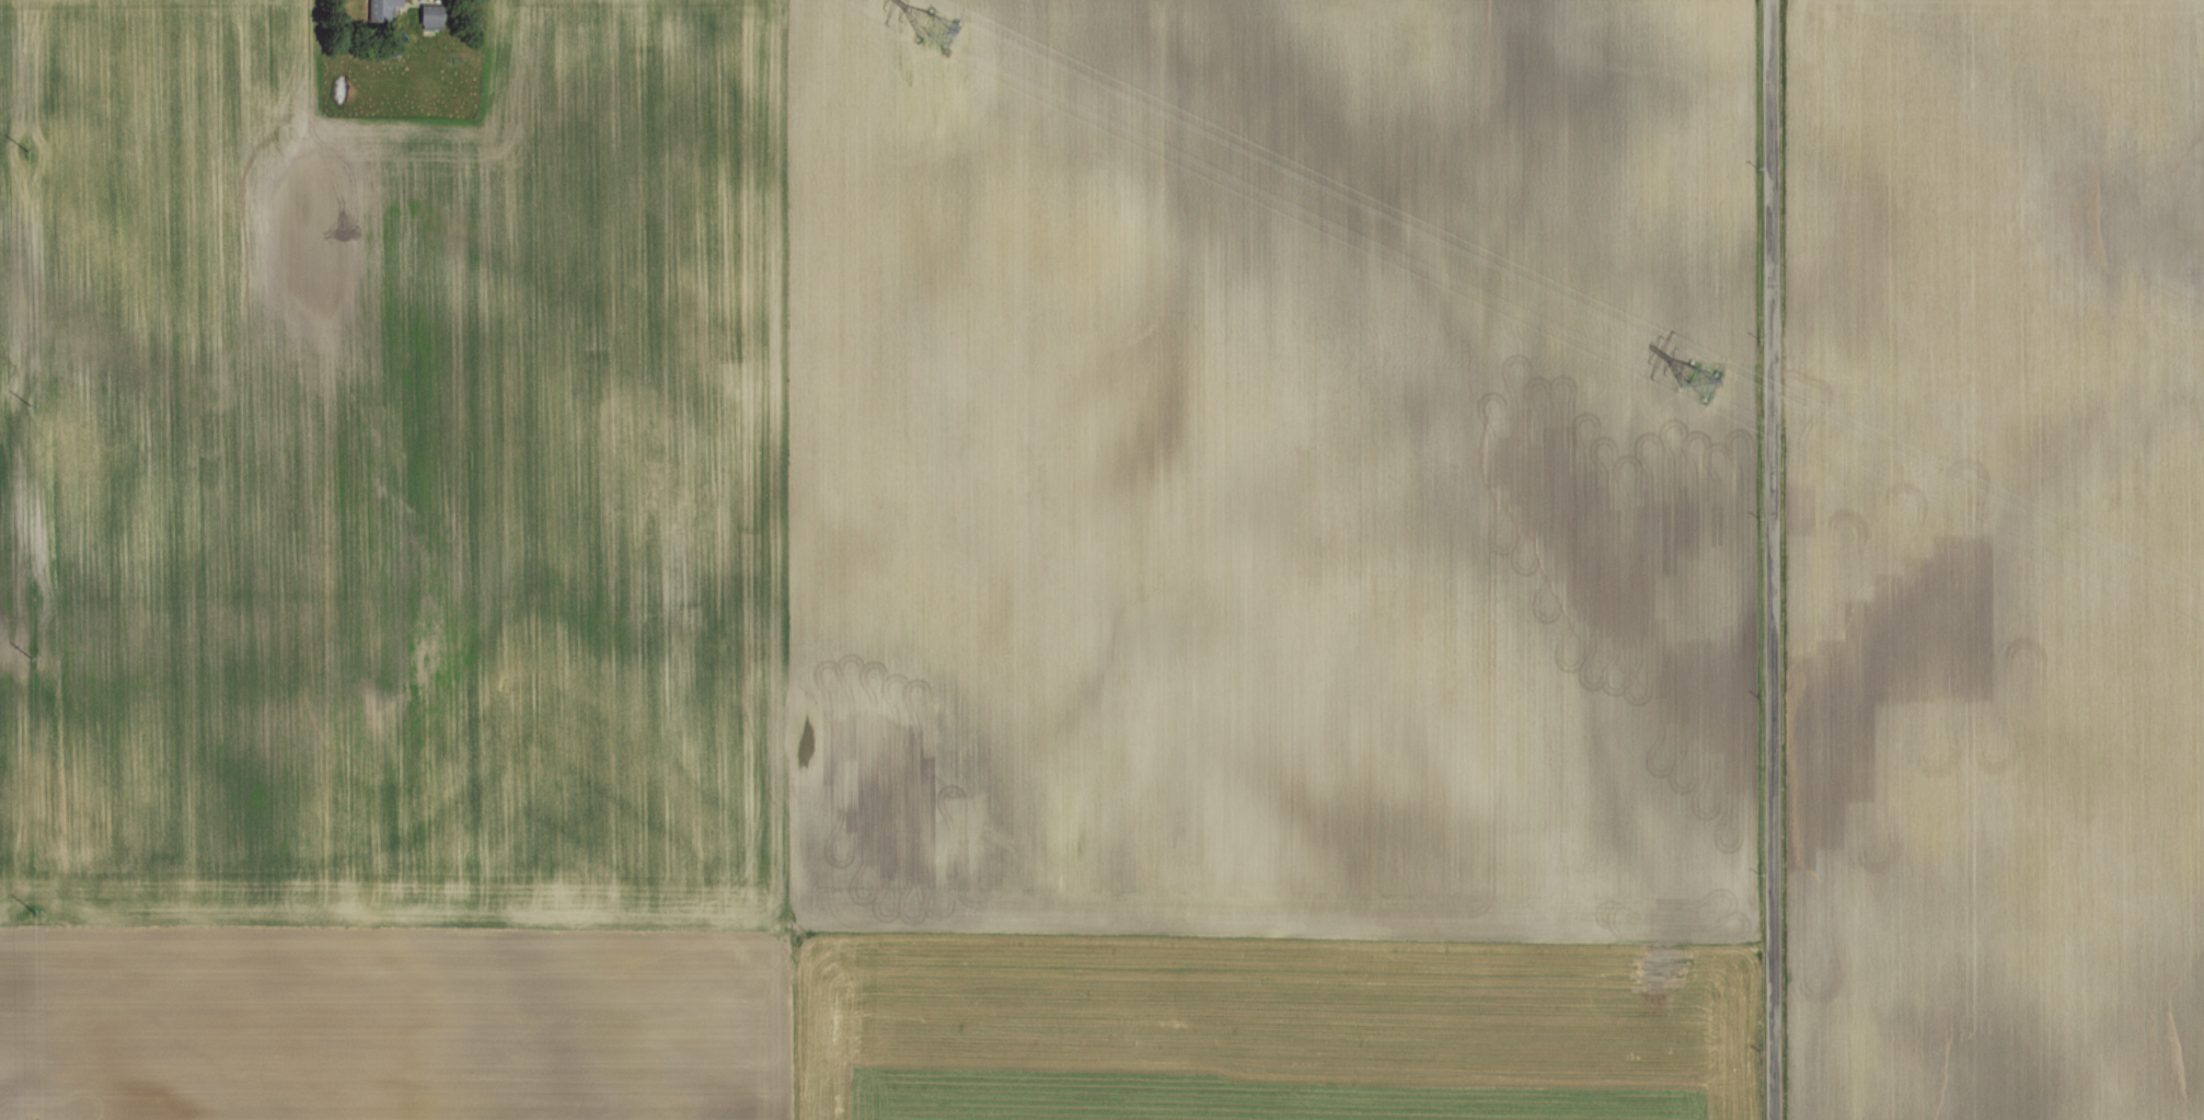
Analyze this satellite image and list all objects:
building: (385, 10)
building: (434, 16)
power tower: (941, 32)
power tower: (1700, 382)
road: (1767, 559)

